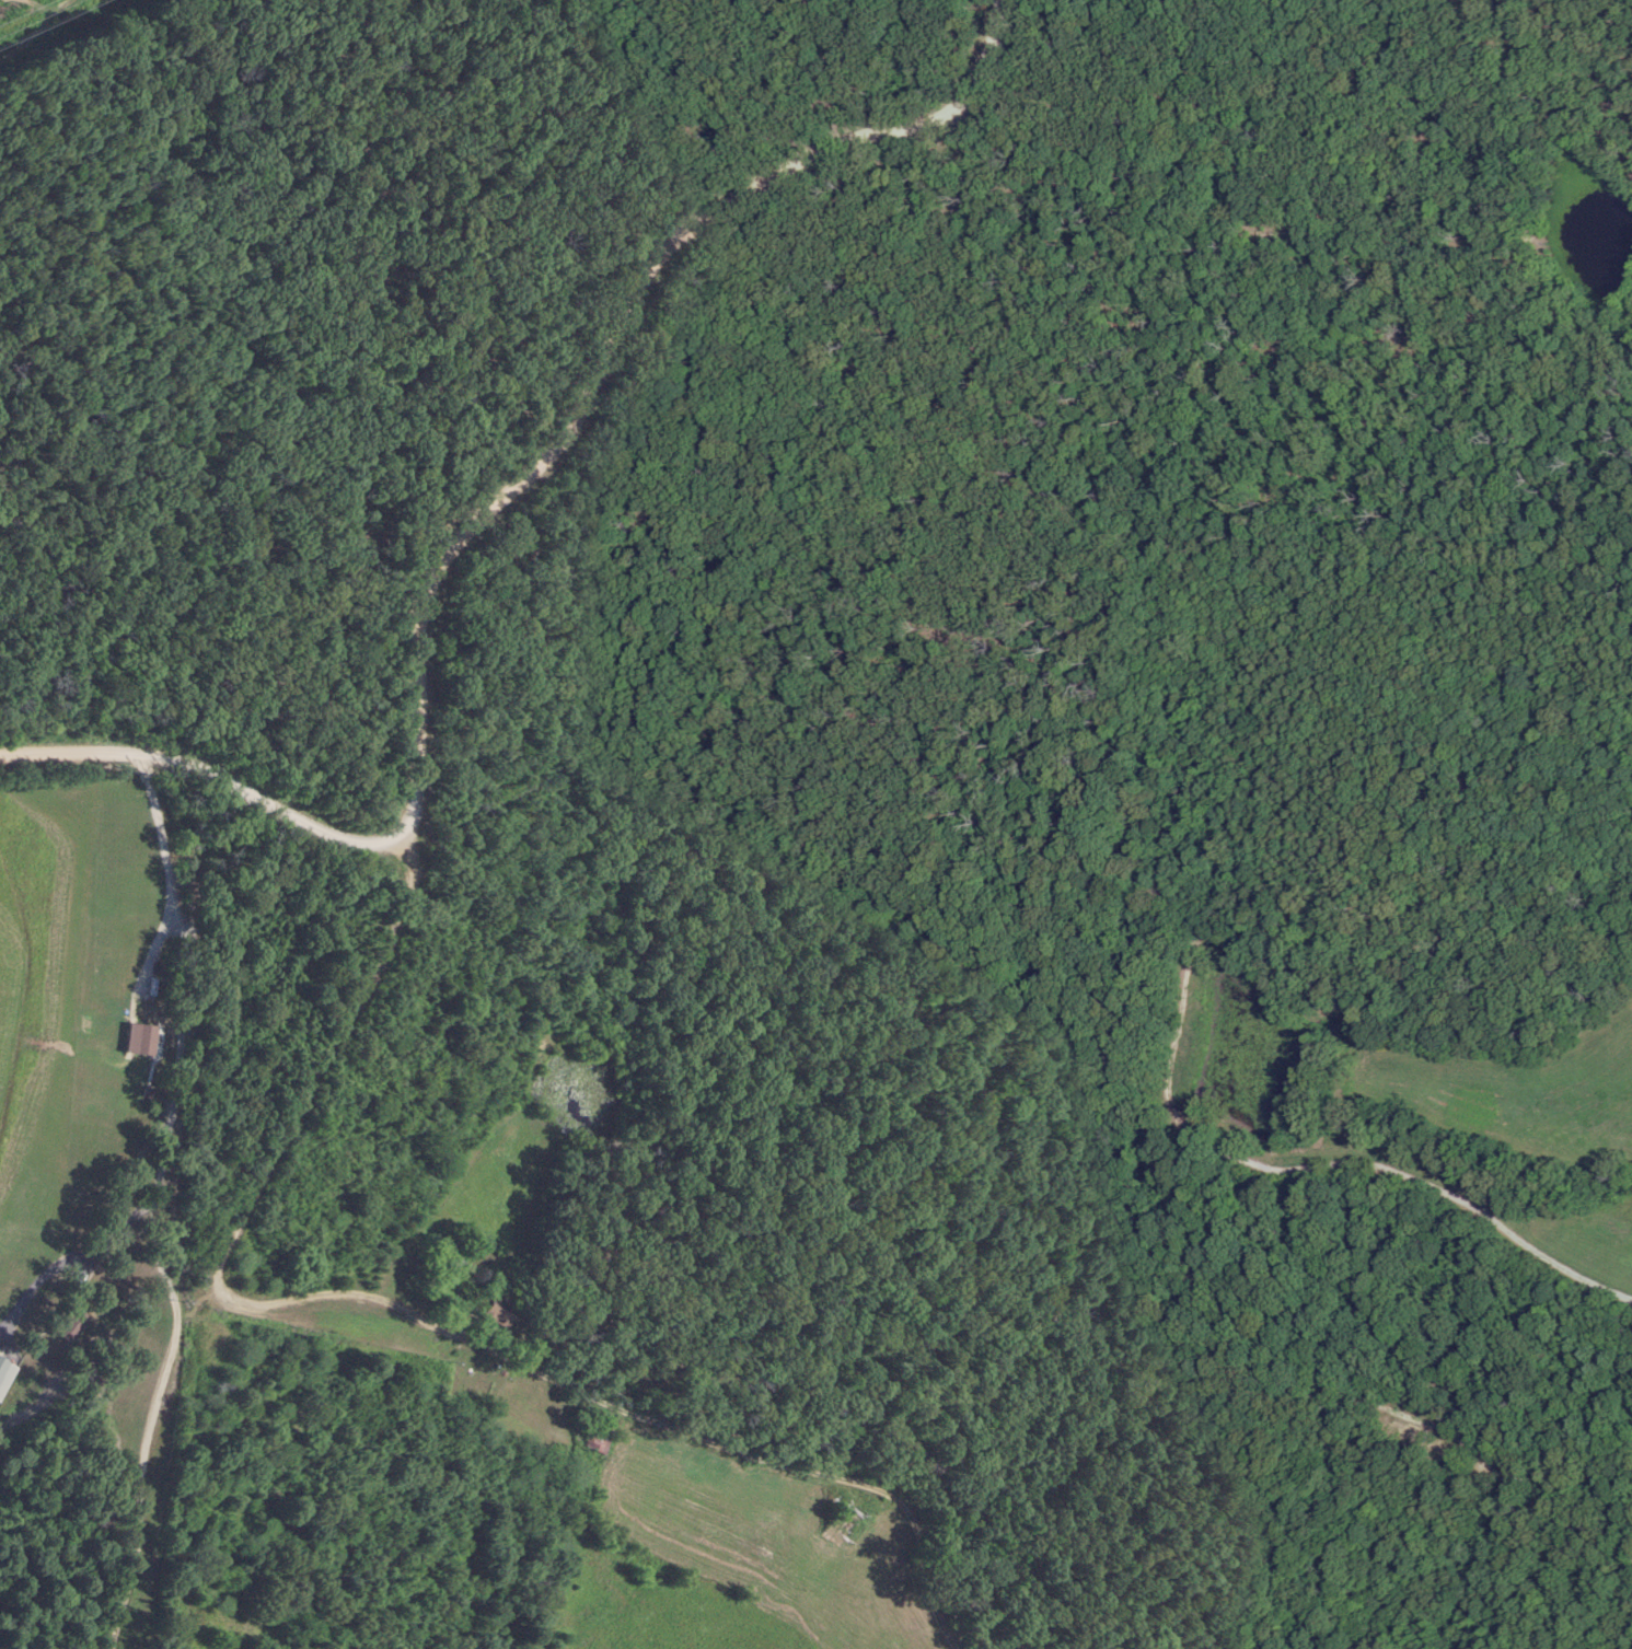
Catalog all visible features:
road: (19, 11)
road: (609, 348)
road: (218, 762)
road: (175, 1075)
building: (442, 1263)
building: (483, 1307)
road: (414, 1314)
building: (71, 1324)
building: (4, 1368)
road: (148, 1420)
building: (599, 1437)
building: (846, 1519)

